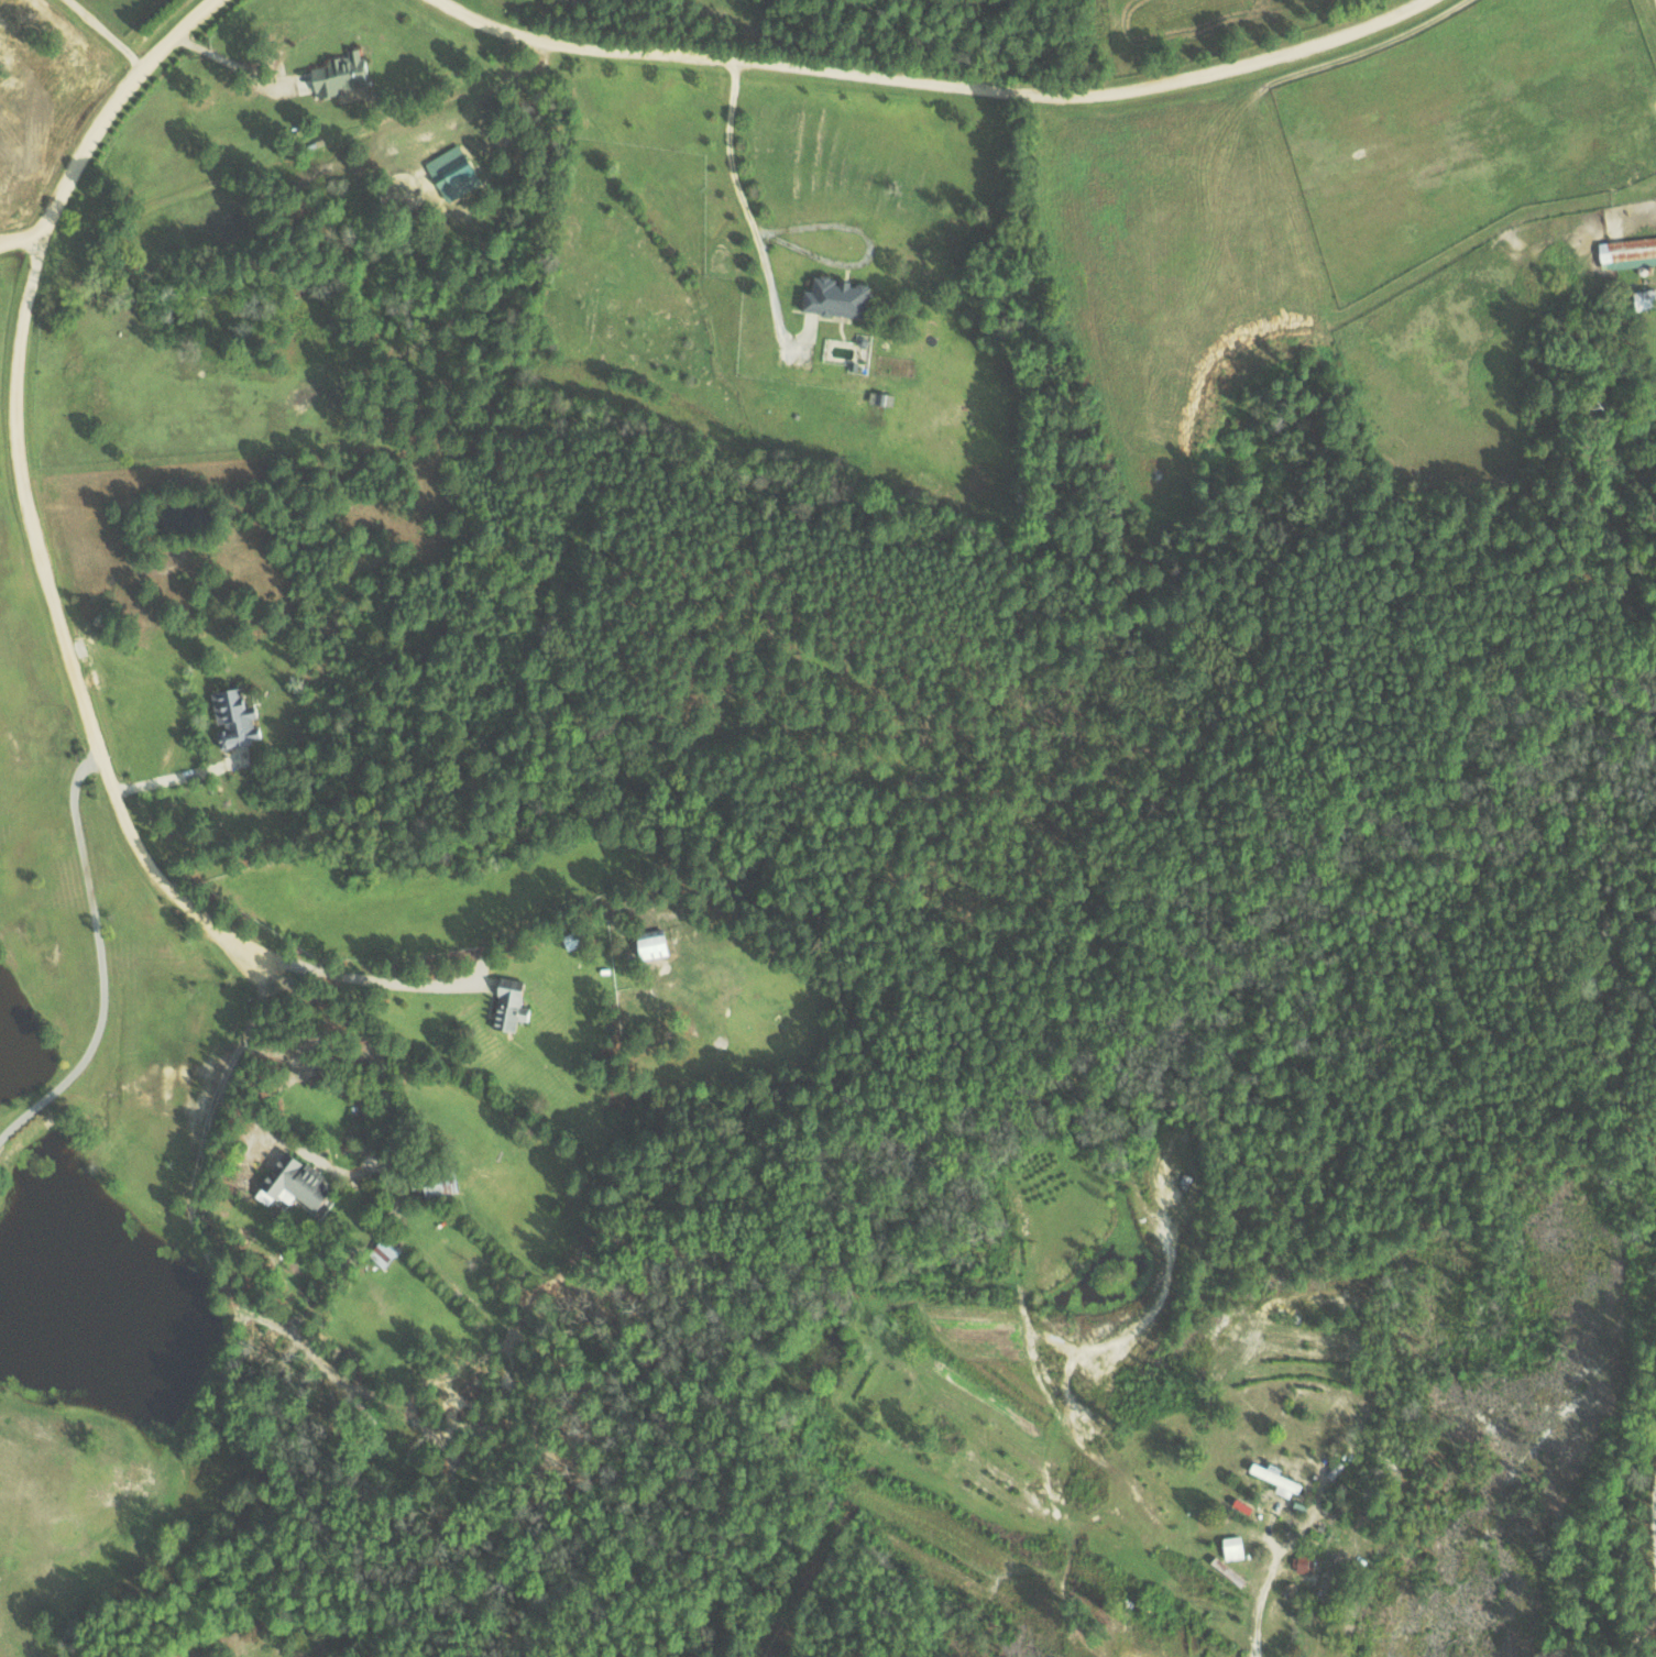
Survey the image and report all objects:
road: (107, 34)
building: (337, 73)
road: (940, 87)
building: (450, 172)
road: (792, 226)
road: (22, 239)
building: (1627, 252)
building: (832, 296)
building: (1643, 297)
road: (29, 490)
building: (231, 717)
building: (648, 943)
road: (100, 956)
building: (506, 1005)
building: (432, 1183)
building: (290, 1184)
building: (1334, 1470)
building: (1273, 1478)
building: (1231, 1547)
building: (1303, 1565)
road: (1248, 1599)
building: (1270, 1621)

